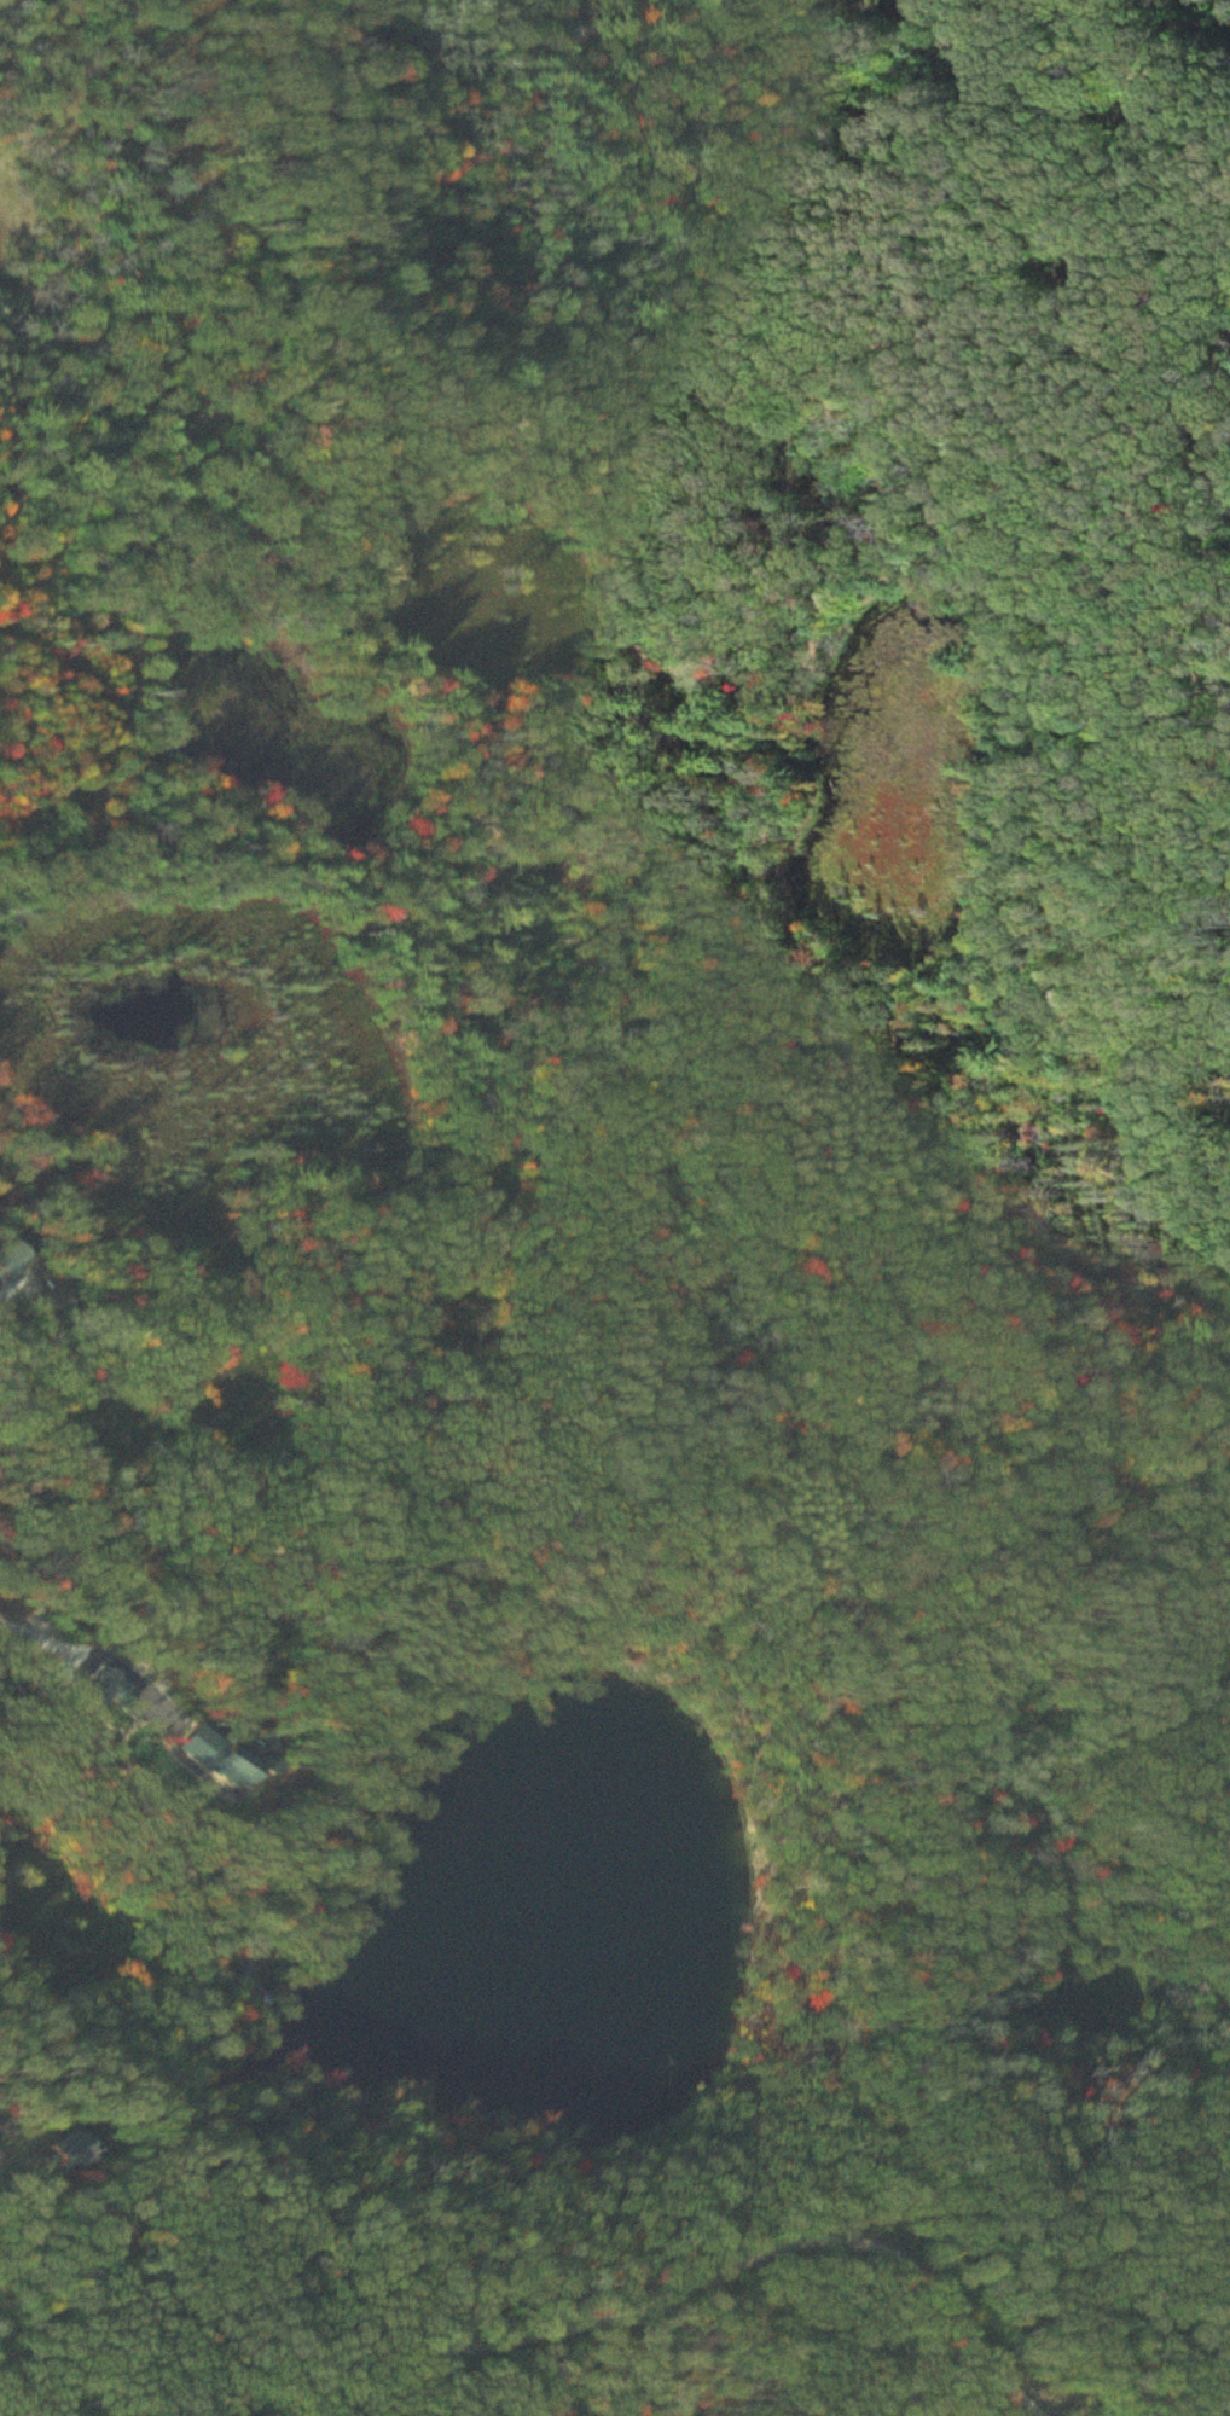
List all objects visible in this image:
building: (14, 1259)
building: (239, 1769)
road: (890, 1905)

